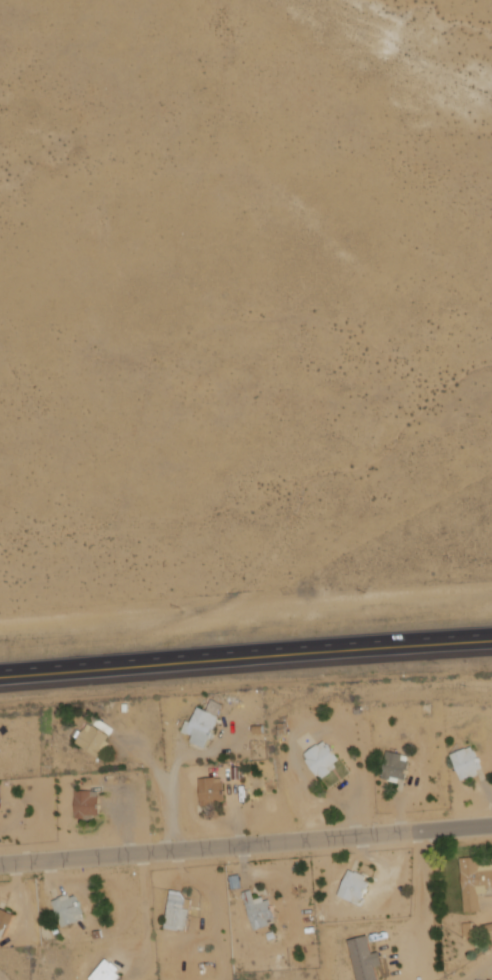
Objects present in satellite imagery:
road: (245, 652)
building: (204, 725)
building: (93, 738)
building: (321, 759)
building: (466, 764)
road: (150, 767)
building: (395, 767)
building: (211, 791)
road: (165, 798)
building: (86, 804)
road: (246, 844)
building: (474, 882)
building: (354, 887)
building: (0, 908)
building: (66, 909)
building: (258, 910)
building: (177, 912)
building: (4, 921)
building: (364, 959)
building: (106, 972)

